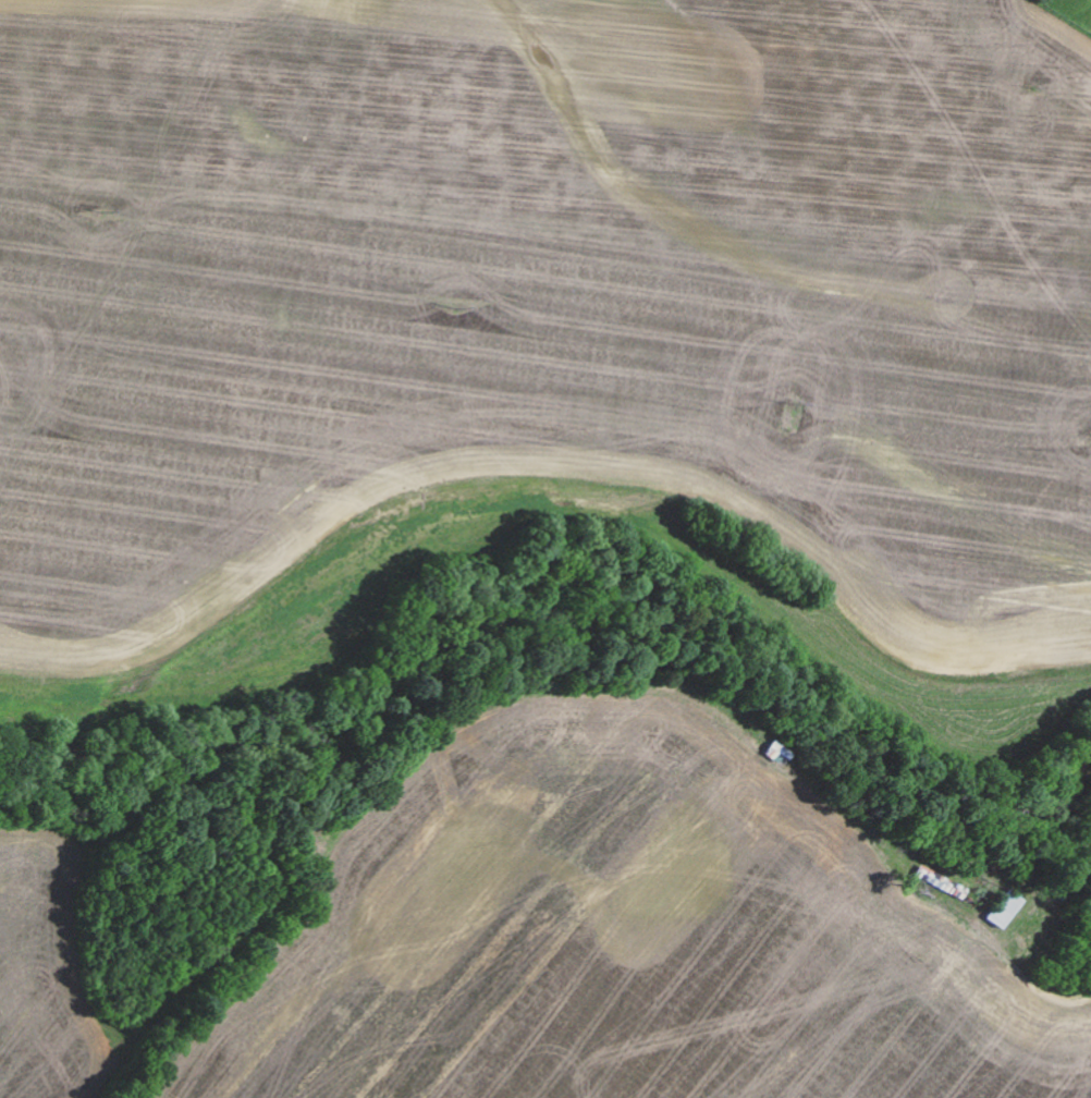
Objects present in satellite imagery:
building: (774, 751)
road: (996, 948)

